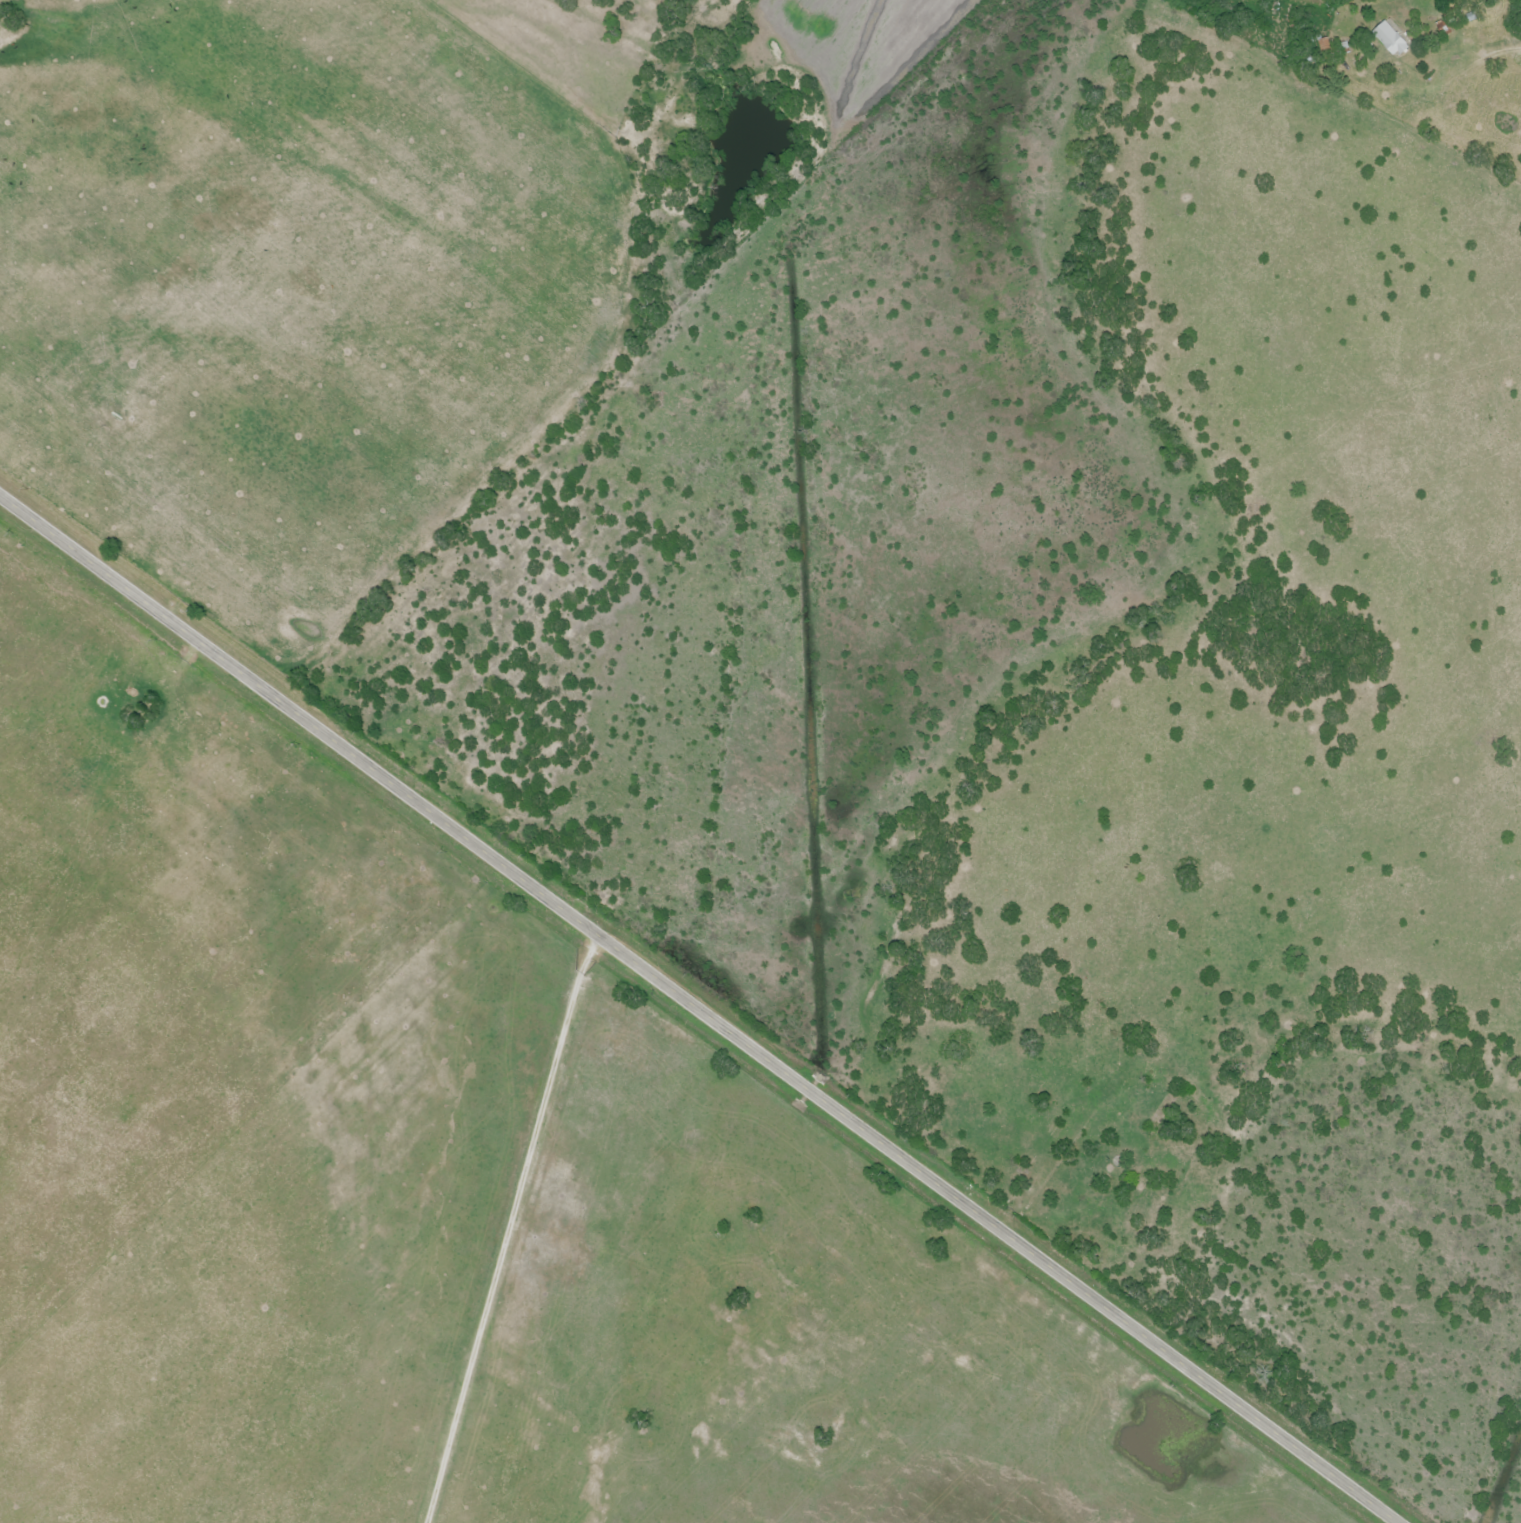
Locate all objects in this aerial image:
building: (1390, 40)
road: (1479, 61)
road: (698, 1010)

